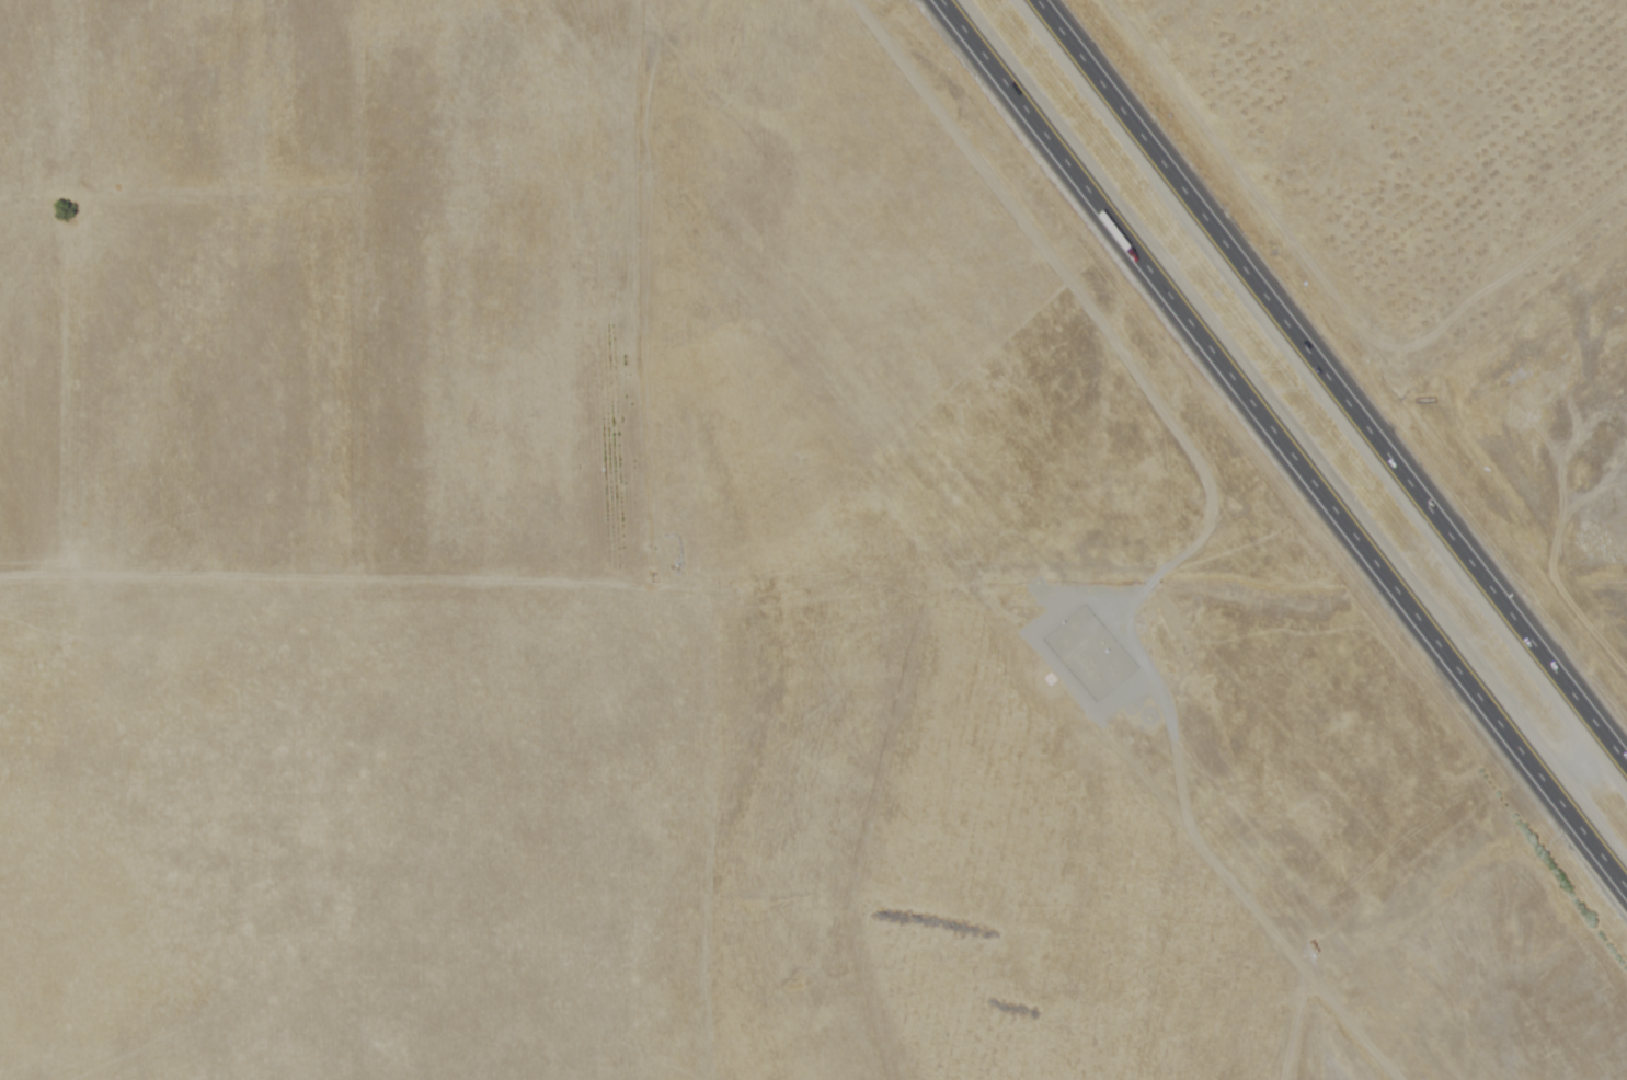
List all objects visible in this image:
crop: (1395, 141)
crop: (298, 282)
road: (1331, 383)
road: (1284, 446)
road: (1574, 765)
crop: (1027, 862)

